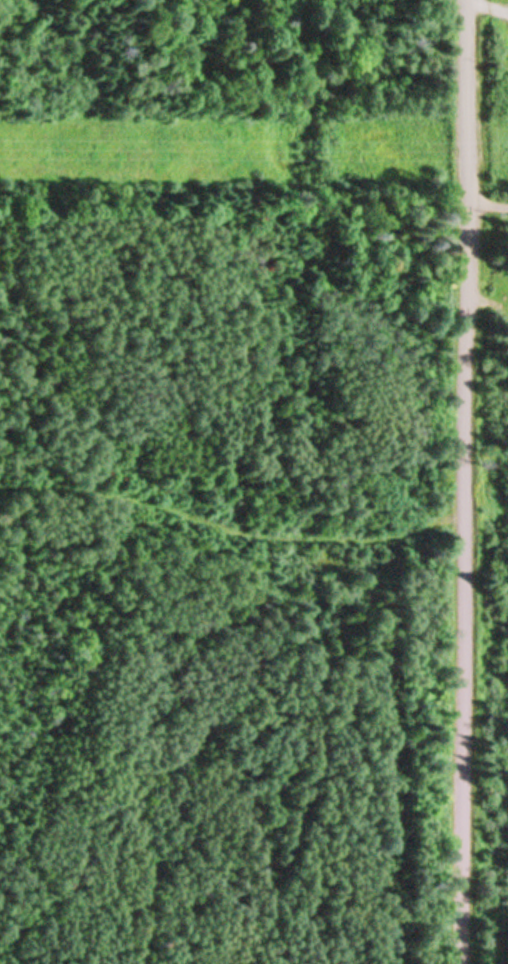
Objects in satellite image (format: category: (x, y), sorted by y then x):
road: (463, 482)

